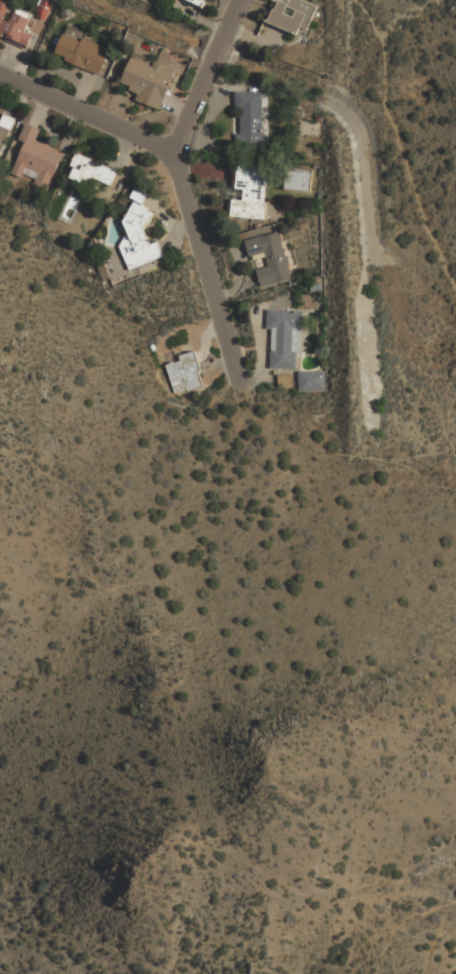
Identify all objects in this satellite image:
building: (200, 2)
road: (234, 8)
building: (293, 15)
building: (15, 23)
road: (220, 41)
building: (83, 48)
building: (148, 79)
road: (87, 111)
building: (252, 117)
building: (5, 129)
road: (395, 140)
building: (37, 158)
building: (93, 172)
building: (299, 178)
building: (252, 191)
building: (138, 195)
road: (195, 225)
building: (139, 237)
building: (271, 257)
building: (286, 337)
building: (185, 372)
building: (286, 378)
building: (311, 379)
road: (346, 454)
park: (174, 662)
road: (437, 947)

